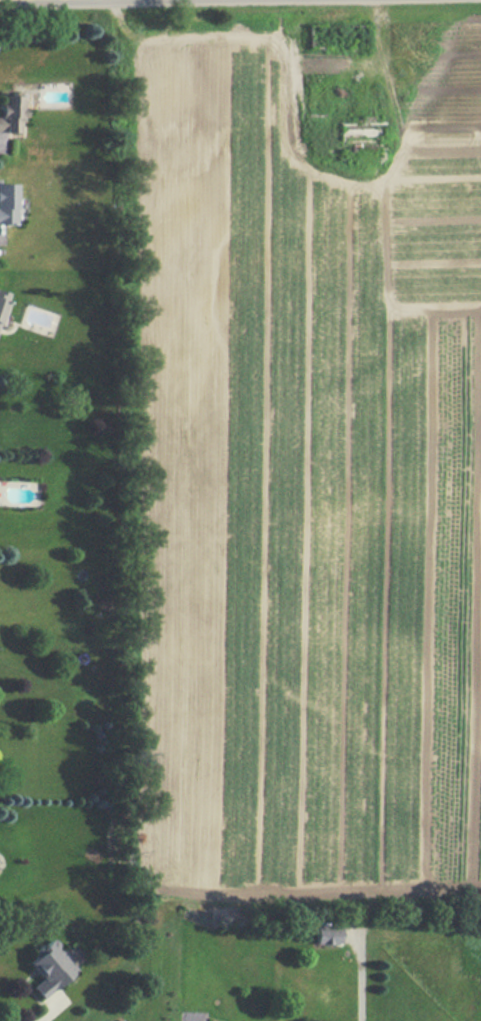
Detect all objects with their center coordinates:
road: (2, 0)
building: (12, 110)
building: (2, 300)
building: (326, 932)
building: (50, 968)
road: (359, 977)

